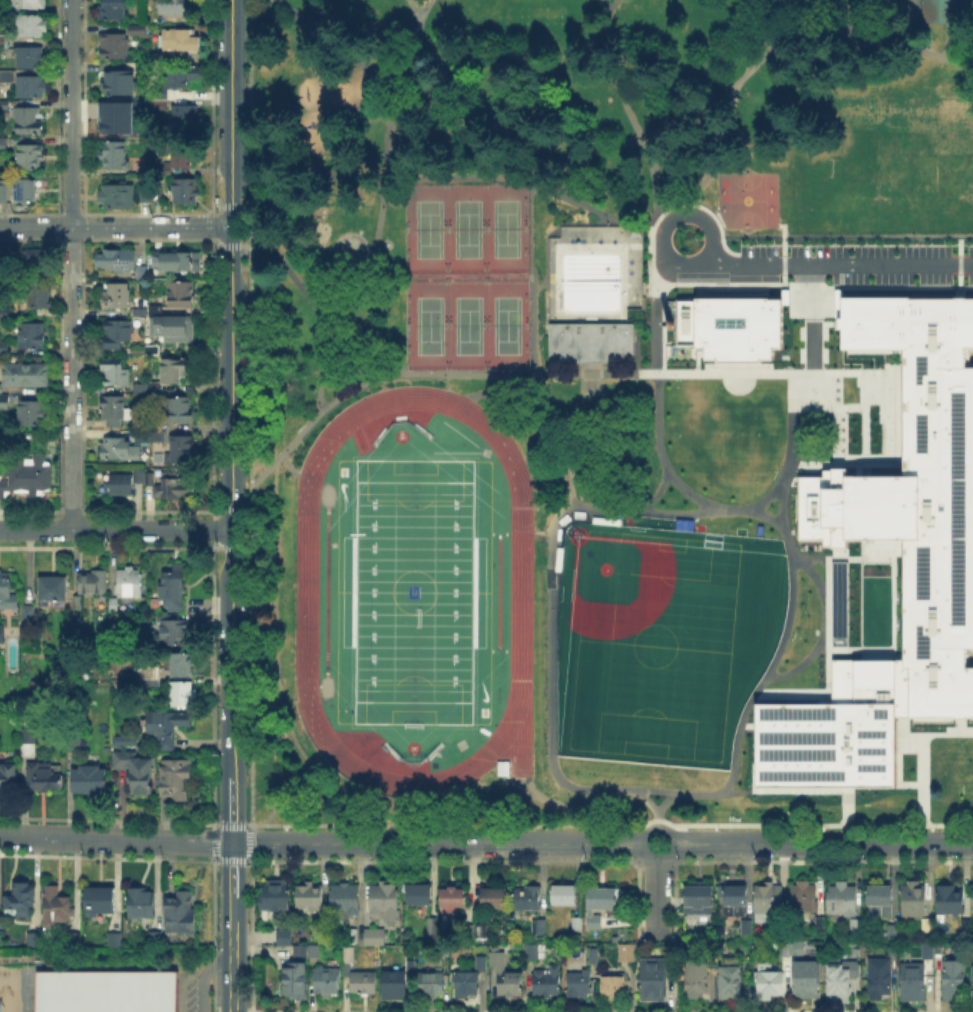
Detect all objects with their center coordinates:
building: (30, 5)
road: (422, 6)
road: (612, 7)
road: (811, 7)
building: (179, 8)
building: (938, 10)
building: (3, 11)
building: (114, 11)
building: (35, 26)
building: (138, 29)
road: (944, 38)
building: (182, 41)
building: (3, 42)
building: (115, 48)
road: (418, 53)
building: (33, 59)
building: (143, 63)
road: (609, 69)
building: (8, 77)
building: (186, 78)
building: (114, 82)
building: (32, 88)
building: (160, 94)
building: (159, 103)
building: (5, 105)
building: (186, 121)
building: (28, 123)
building: (116, 125)
road: (619, 141)
building: (4, 144)
park: (905, 149)
road: (719, 151)
building: (116, 156)
building: (184, 157)
building: (31, 160)
road: (523, 175)
road: (656, 175)
building: (25, 189)
building: (145, 192)
building: (186, 192)
building: (4, 194)
building: (118, 197)
park: (746, 201)
road: (689, 215)
road: (116, 226)
park: (429, 227)
park: (467, 228)
park: (505, 228)
road: (847, 234)
fountain: (321, 235)
road: (244, 245)
parking lot: (855, 248)
building: (36, 255)
building: (117, 258)
road: (369, 261)
building: (175, 262)
road: (72, 264)
road: (837, 267)
road: (650, 269)
building: (142, 272)
road: (531, 273)
parking lot: (901, 277)
road: (849, 286)
building: (40, 296)
building: (182, 296)
building: (117, 298)
road: (654, 304)
building: (155, 308)
road: (319, 310)
building: (4, 312)
building: (139, 312)
park: (505, 324)
park: (428, 325)
park: (467, 325)
building: (727, 326)
road: (661, 327)
building: (175, 329)
building: (118, 335)
building: (32, 336)
building: (588, 341)
building: (4, 349)
building: (116, 370)
building: (176, 370)
road: (594, 371)
road: (778, 372)
building: (27, 375)
park: (527, 378)
road: (360, 381)
road: (232, 387)
road: (500, 387)
building: (142, 389)
building: (4, 400)
building: (181, 410)
building: (114, 411)
building: (33, 413)
building: (141, 435)
building: (184, 449)
building: (121, 450)
road: (659, 453)
road: (290, 466)
building: (139, 476)
building: (28, 478)
building: (150, 478)
building: (174, 483)
building: (122, 485)
road: (656, 491)
road: (242, 509)
road: (116, 530)
road: (547, 532)
building: (937, 541)
building: (95, 582)
building: (130, 583)
track: (305, 583)
building: (174, 587)
road: (549, 588)
building: (54, 589)
building: (6, 590)
park: (413, 591)
road: (793, 603)
building: (838, 603)
building: (29, 613)
building: (0, 631)
building: (180, 634)
park: (661, 639)
park: (669, 646)
building: (182, 665)
building: (148, 676)
building: (183, 695)
building: (169, 727)
road: (940, 734)
building: (30, 736)
building: (127, 740)
building: (73, 744)
building: (30, 751)
building: (138, 773)
road: (921, 776)
building: (9, 777)
building: (45, 777)
building: (177, 779)
building: (91, 780)
road: (635, 791)
road: (284, 799)
road: (663, 801)
road: (552, 802)
road: (233, 809)
road: (241, 826)
road: (250, 835)
road: (116, 839)
traffic signals: (233, 843)
road: (437, 844)
road: (823, 844)
road: (645, 852)
road: (233, 869)
building: (420, 893)
building: (565, 896)
road: (657, 896)
building: (273, 897)
building: (385, 897)
building: (737, 897)
building: (16, 898)
building: (96, 898)
building: (309, 898)
building: (345, 898)
building: (495, 898)
building: (529, 898)
building: (699, 898)
building: (881, 898)
building: (972, 898)
building: (454, 899)
building: (604, 899)
building: (915, 899)
building: (137, 900)
building: (770, 900)
building: (804, 900)
building: (952, 901)
building: (842, 902)
building: (53, 904)
road: (233, 909)
building: (176, 911)
building: (592, 920)
building: (819, 923)
building: (963, 923)
building: (540, 924)
building: (433, 925)
building: (574, 925)
building: (927, 925)
building: (746, 926)
building: (859, 927)
building: (370, 930)
building: (889, 931)
building: (483, 932)
building: (352, 933)
building: (282, 935)
building: (30, 936)
building: (111, 937)
building: (154, 938)
building: (75, 939)
building: (790, 948)
building: (925, 948)
building: (298, 949)
building: (312, 949)
building: (538, 949)
building: (625, 951)
building: (940, 951)
building: (346, 952)
building: (894, 953)
building: (592, 954)
building: (479, 961)
road: (233, 967)
building: (502, 972)
road: (201, 975)
building: (695, 976)
building: (324, 978)
building: (803, 978)
building: (879, 978)
building: (292, 979)
building: (651, 979)
building: (971, 979)
building: (360, 980)
building: (429, 980)
building: (544, 980)
building: (728, 980)
building: (910, 980)
building: (954, 980)
building: (767, 981)
building: (464, 982)
building: (836, 982)
building: (391, 983)
building: (578, 983)
building: (612, 985)
parking lot: (200, 990)
building: (105, 991)

